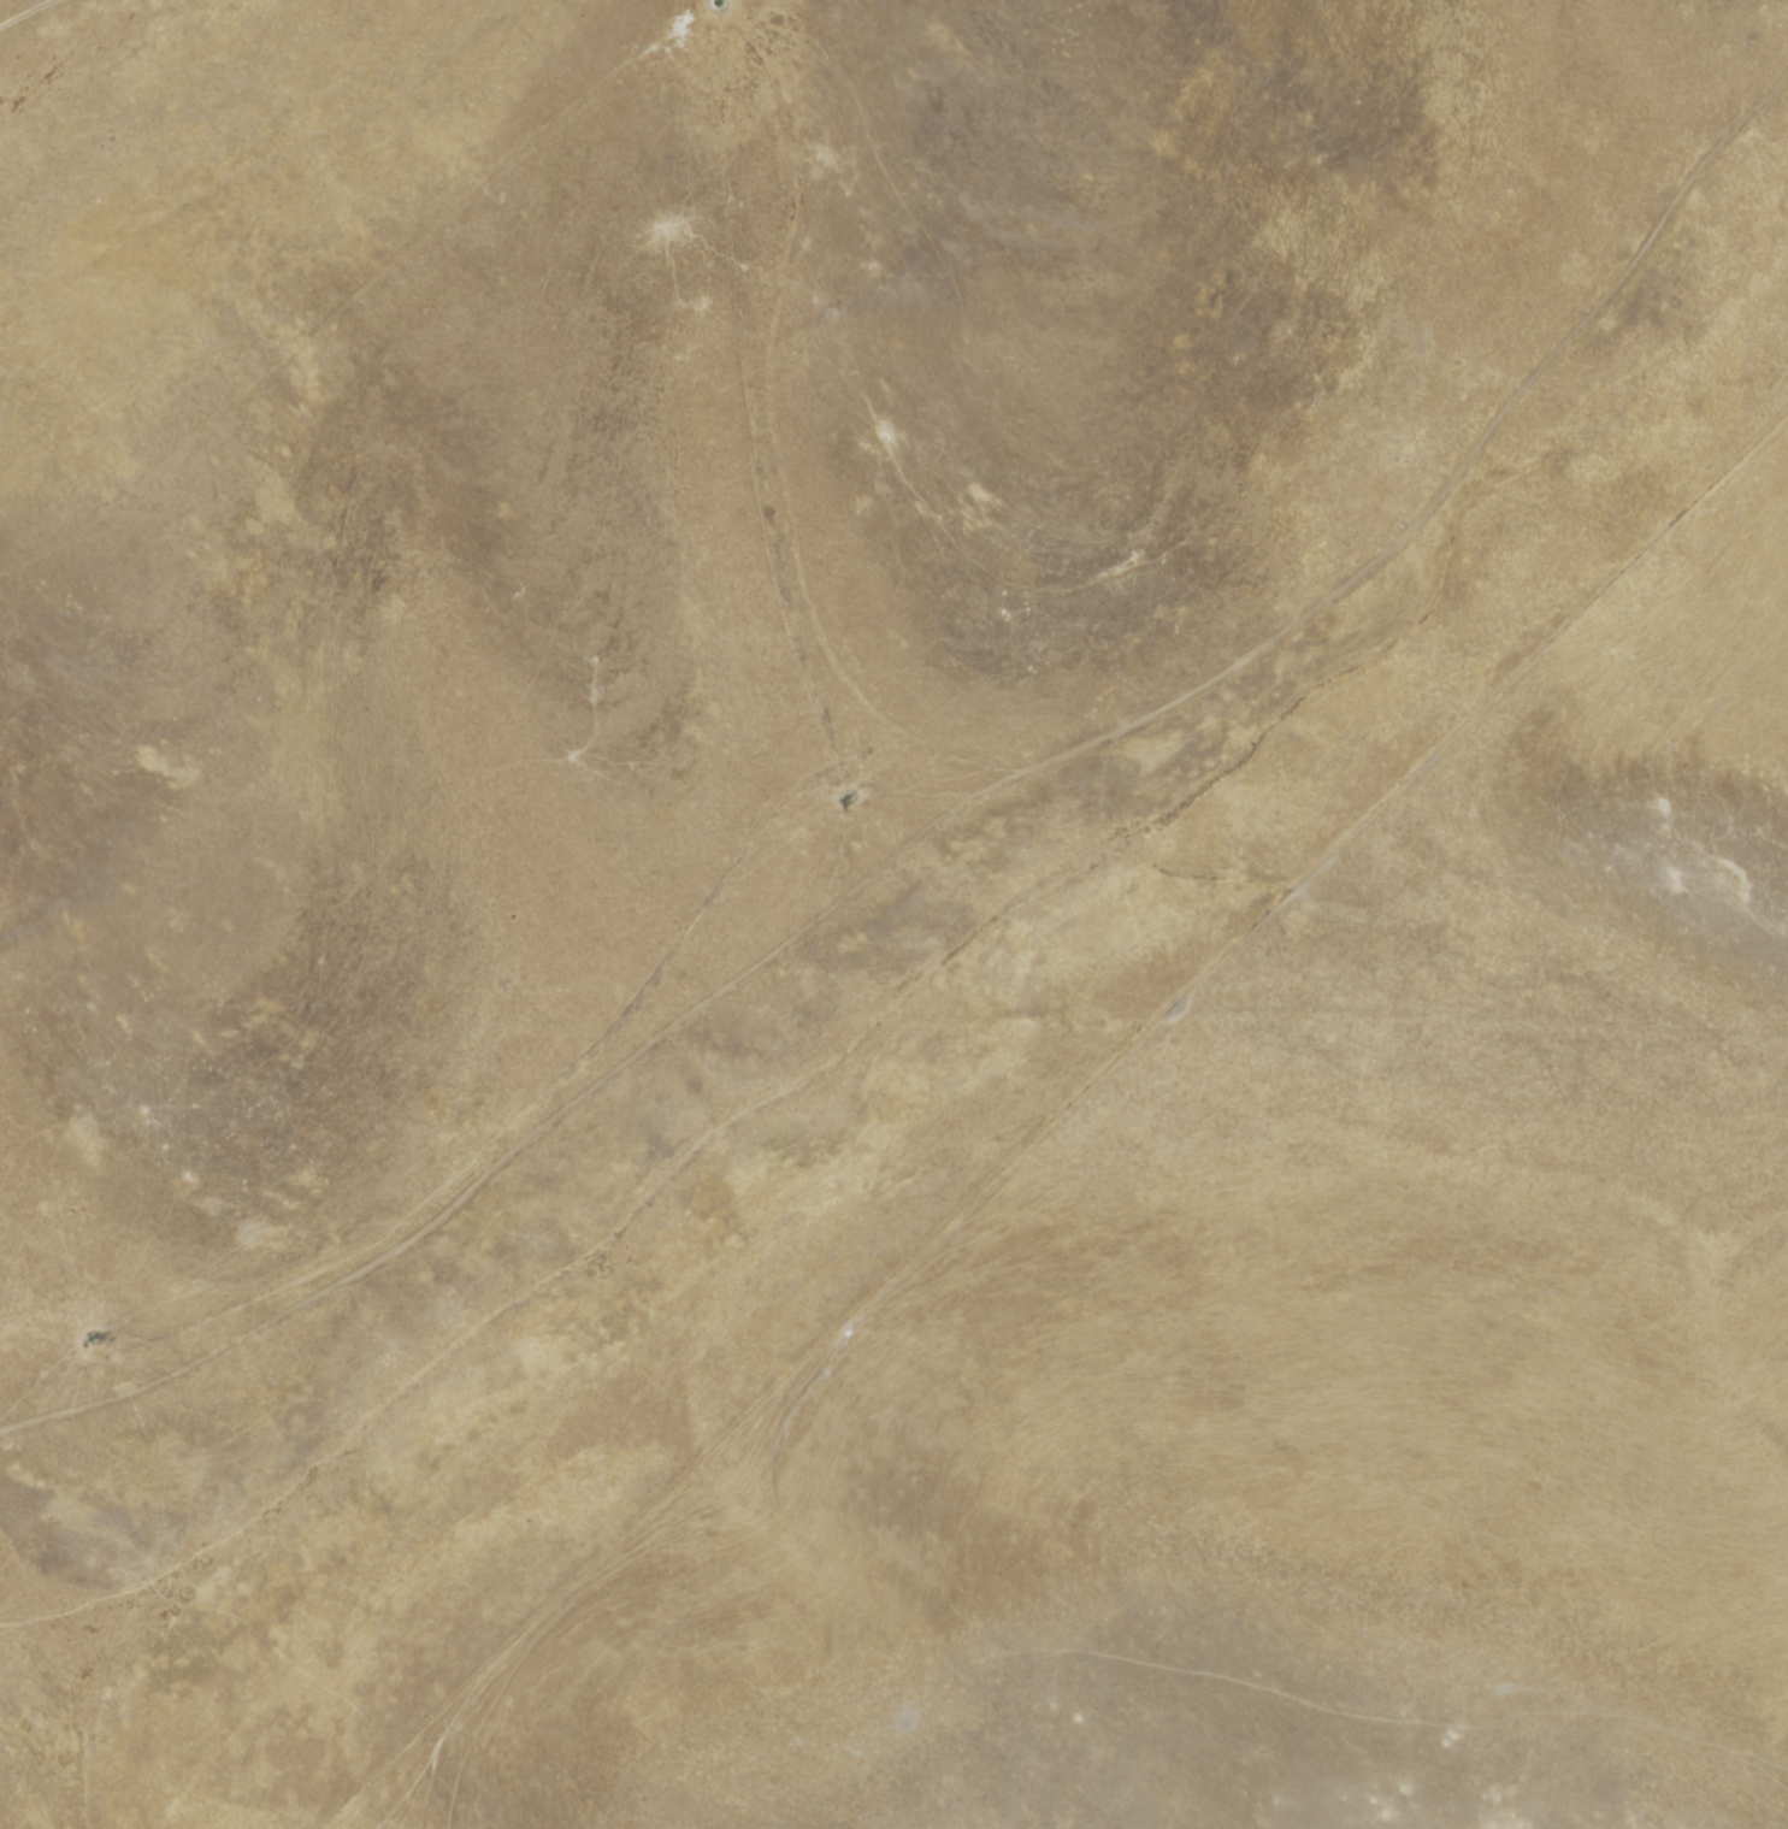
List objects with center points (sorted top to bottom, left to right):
road: (1562, 1072)

